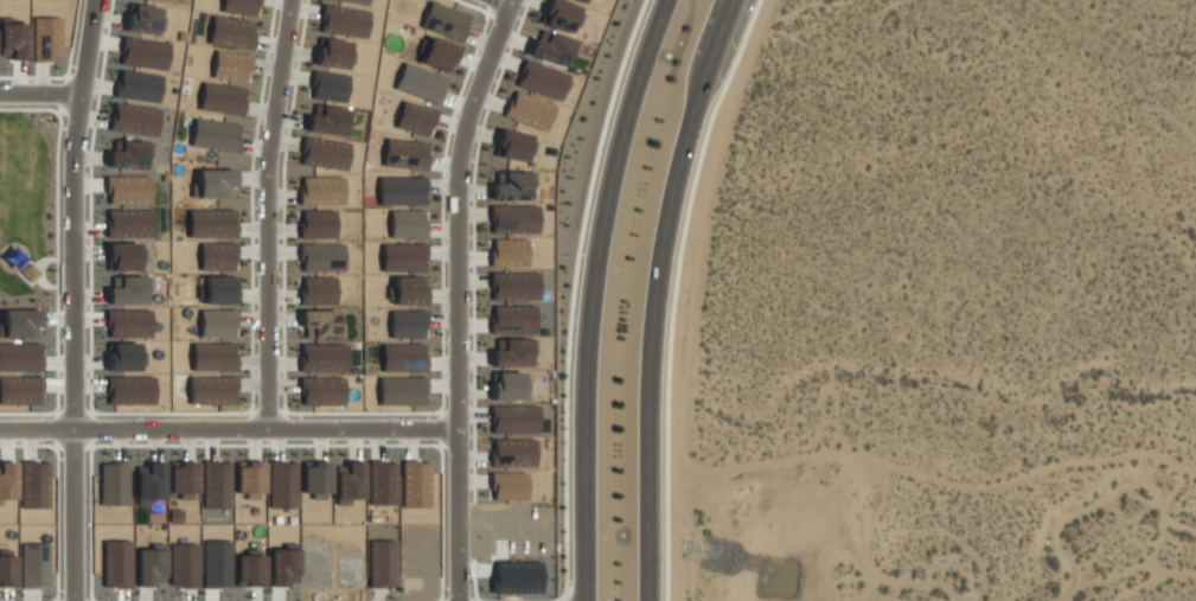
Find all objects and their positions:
building: (158, 0)
building: (583, 0)
building: (352, 1)
building: (239, 6)
building: (559, 15)
building: (141, 19)
building: (444, 20)
building: (343, 21)
building: (230, 32)
building: (45, 38)
building: (14, 39)
building: (551, 47)
building: (143, 52)
building: (333, 53)
building: (437, 55)
building: (230, 66)
building: (541, 78)
building: (418, 82)
building: (137, 85)
building: (328, 87)
road: (40, 91)
building: (220, 98)
building: (527, 110)
building: (133, 119)
building: (414, 119)
building: (328, 120)
building: (213, 134)
building: (512, 145)
building: (325, 153)
building: (404, 154)
building: (127, 155)
building: (215, 183)
building: (514, 186)
building: (321, 190)
building: (401, 190)
park: (28, 211)
road: (267, 211)
building: (513, 218)
building: (210, 223)
building: (316, 223)
building: (405, 224)
building: (507, 251)
building: (216, 255)
building: (121, 256)
building: (402, 256)
building: (320, 257)
building: (513, 286)
building: (218, 289)
building: (316, 289)
building: (408, 290)
road: (658, 294)
road: (591, 295)
road: (455, 296)
road: (70, 299)
building: (512, 319)
building: (217, 322)
building: (320, 322)
building: (405, 324)
building: (512, 352)
building: (212, 356)
building: (322, 357)
building: (402, 357)
building: (506, 385)
building: (211, 389)
building: (321, 390)
building: (401, 390)
building: (513, 418)
road: (226, 424)
building: (512, 452)
building: (183, 479)
building: (249, 479)
building: (314, 479)
building: (347, 481)
building: (114, 482)
building: (149, 482)
building: (216, 484)
building: (282, 484)
building: (507, 486)
building: (382, 562)

